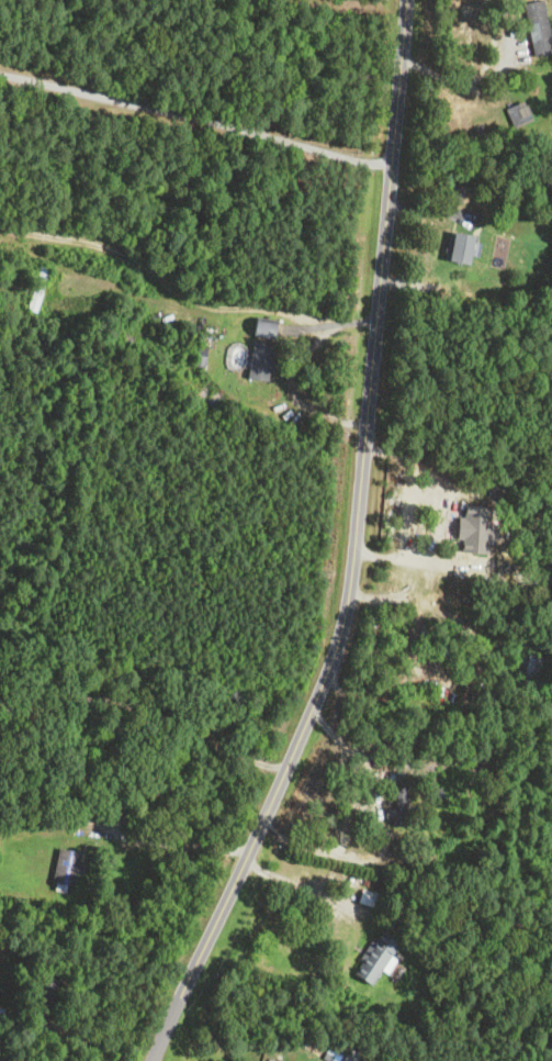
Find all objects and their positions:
building: (533, 58)
road: (470, 79)
road: (193, 116)
building: (452, 192)
building: (453, 247)
building: (493, 253)
road: (187, 267)
building: (37, 287)
building: (264, 328)
building: (199, 355)
building: (261, 360)
road: (406, 510)
road: (356, 550)
building: (503, 567)
building: (528, 672)
building: (396, 805)
road: (392, 833)
road: (177, 842)
building: (66, 867)
road: (307, 884)
building: (371, 957)
building: (45, 996)
road: (86, 1041)

